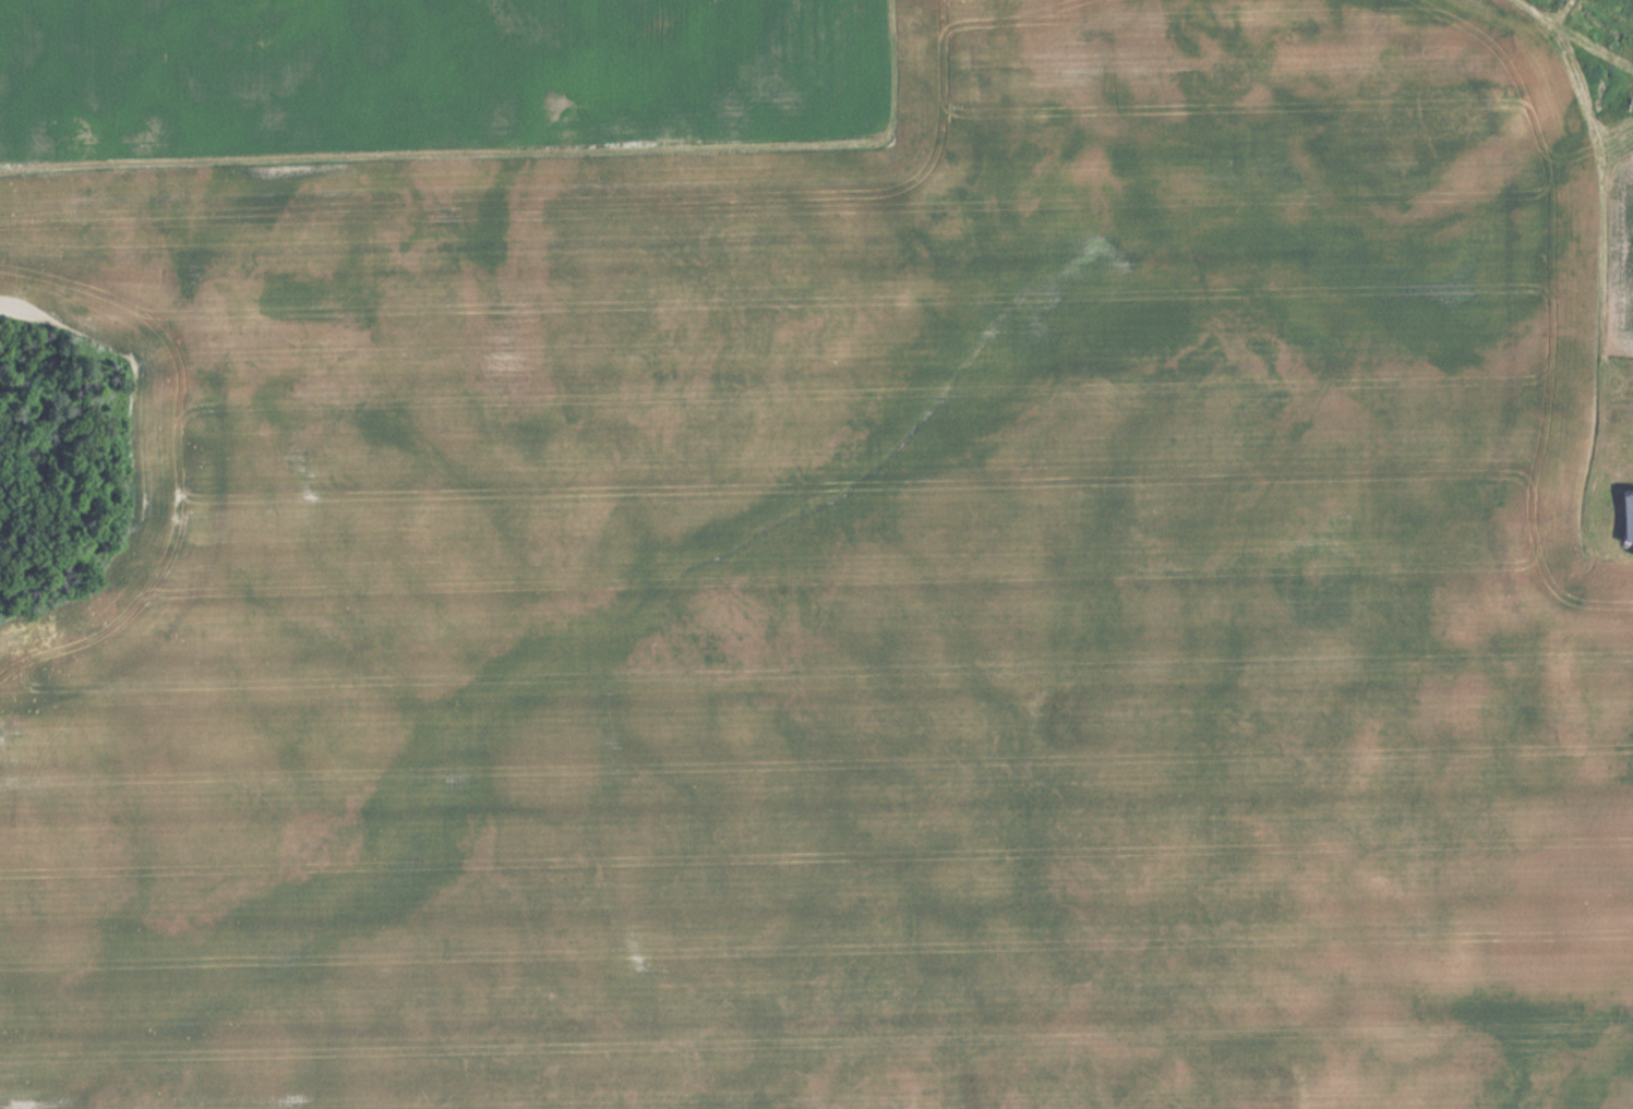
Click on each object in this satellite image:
building: (1624, 515)

